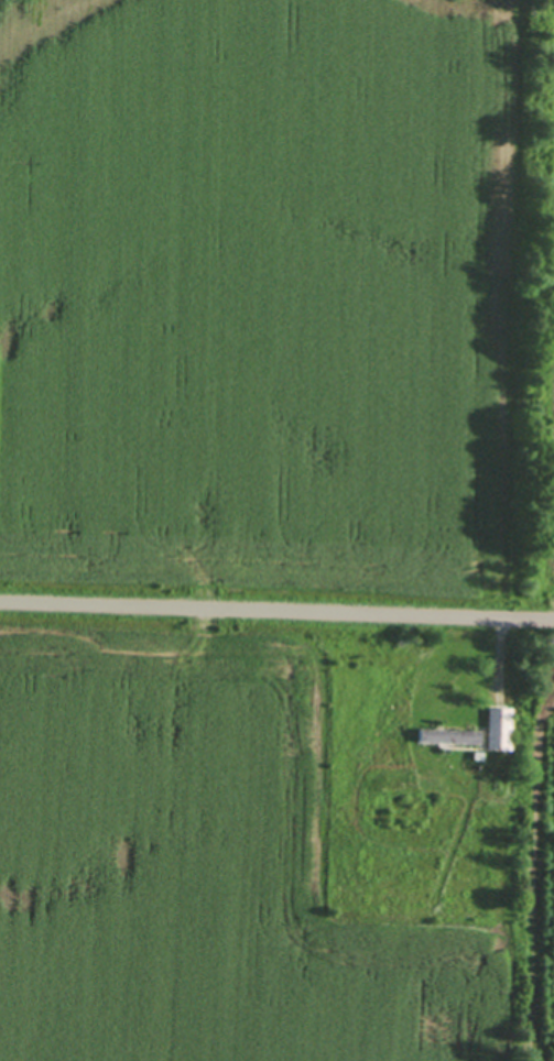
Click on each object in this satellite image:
road: (276, 612)
building: (497, 724)
building: (446, 733)

